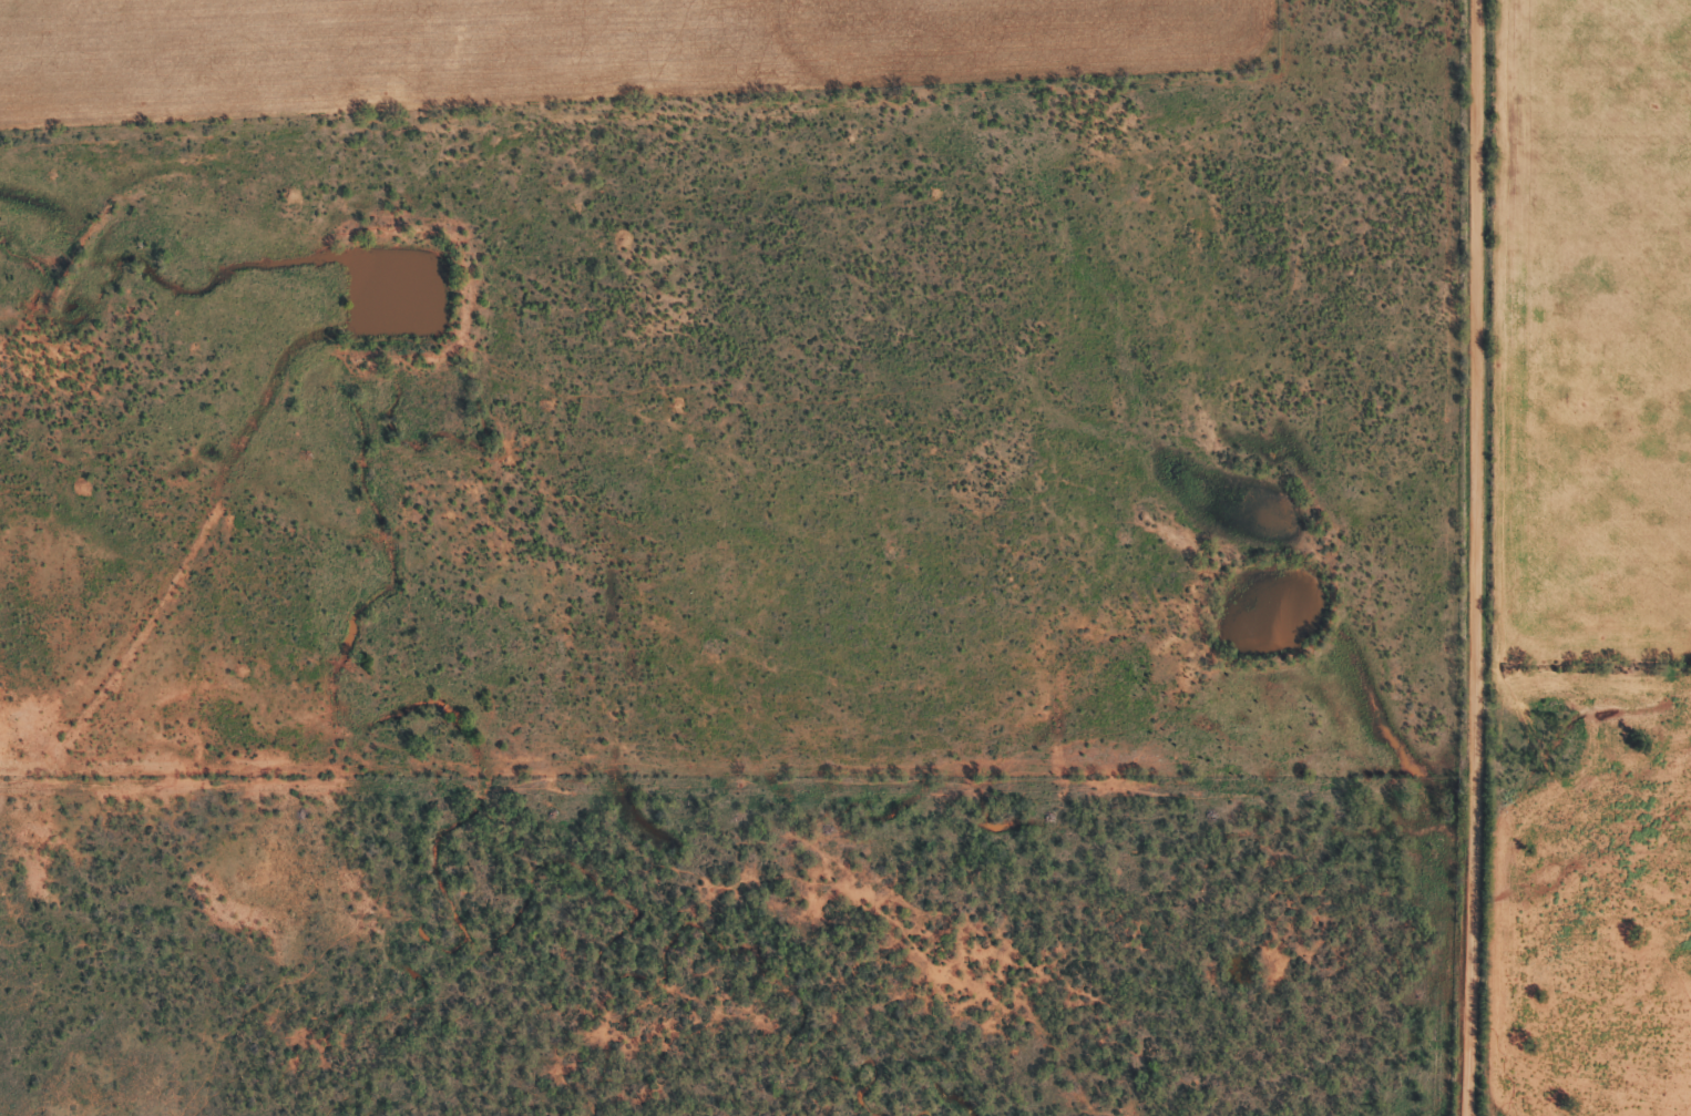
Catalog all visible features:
road: (1483, 557)

